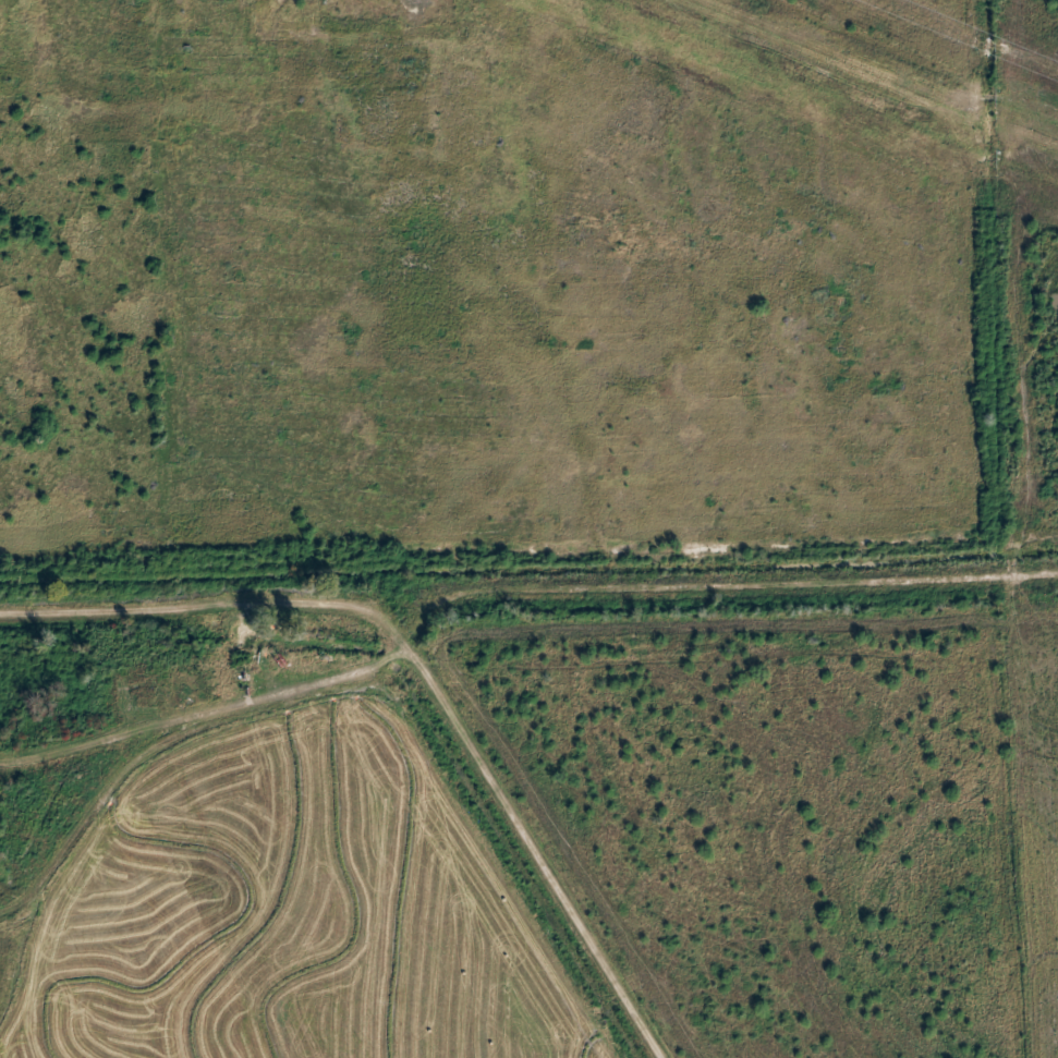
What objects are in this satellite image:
road: (524, 610)

